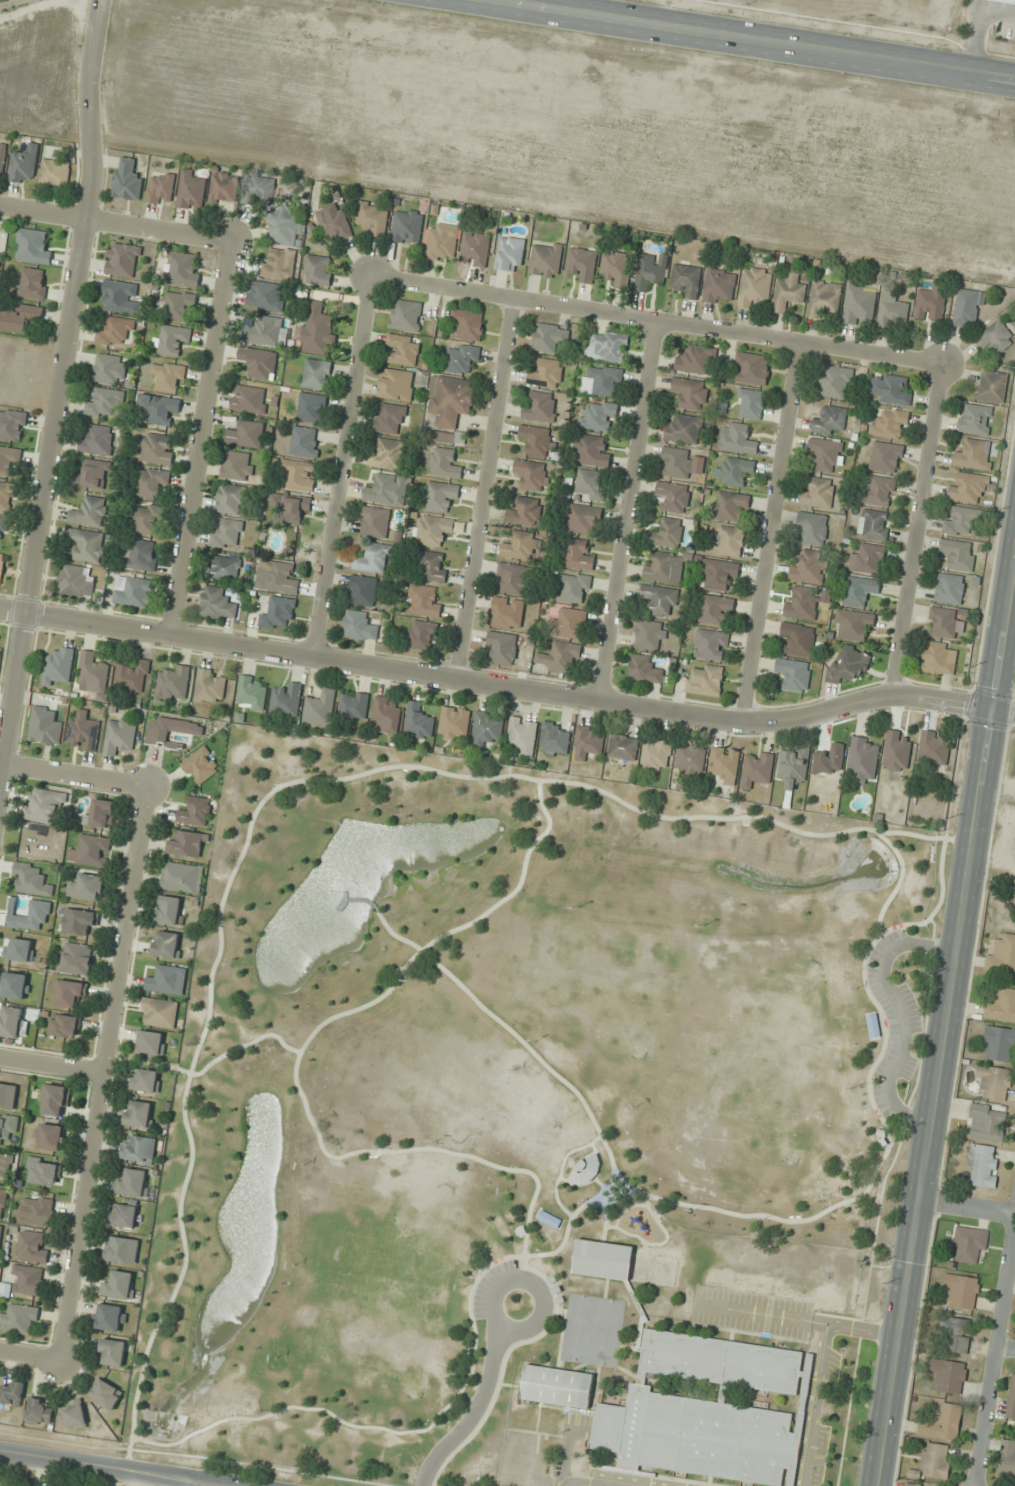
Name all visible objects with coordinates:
building: (1002, 1)
gas station: (1006, 1)
road: (998, 12)
road: (977, 36)
road: (758, 39)
building: (2, 158)
building: (24, 164)
building: (54, 172)
building: (127, 179)
building: (224, 187)
building: (160, 188)
building: (258, 189)
building: (191, 190)
building: (372, 218)
road: (114, 222)
building: (334, 224)
building: (407, 226)
building: (284, 228)
building: (441, 241)
building: (31, 246)
building: (474, 248)
building: (510, 254)
building: (123, 259)
building: (546, 259)
building: (279, 263)
building: (582, 264)
building: (181, 268)
building: (615, 268)
building: (318, 270)
building: (649, 273)
building: (686, 280)
building: (33, 283)
building: (719, 285)
building: (754, 287)
building: (789, 291)
building: (265, 296)
building: (119, 297)
building: (824, 297)
building: (931, 303)
building: (178, 305)
building: (859, 305)
building: (966, 308)
building: (892, 313)
building: (405, 315)
building: (20, 319)
road: (657, 323)
building: (468, 324)
building: (115, 330)
building: (262, 330)
building: (317, 331)
building: (550, 337)
building: (995, 337)
building: (170, 340)
building: (608, 346)
building: (402, 350)
building: (462, 358)
building: (696, 359)
building: (260, 363)
building: (751, 368)
building: (108, 369)
building: (316, 374)
building: (547, 374)
building: (168, 377)
building: (601, 381)
building: (835, 382)
building: (397, 384)
building: (991, 386)
building: (889, 389)
building: (691, 393)
road: (62, 399)
building: (249, 399)
building: (450, 400)
building: (104, 401)
building: (750, 403)
building: (539, 406)
building: (159, 408)
building: (311, 408)
building: (598, 416)
building: (390, 418)
building: (975, 419)
building: (830, 421)
building: (889, 423)
building: (12, 424)
building: (683, 429)
building: (246, 434)
road: (200, 437)
building: (447, 437)
building: (737, 438)
building: (96, 439)
building: (536, 440)
building: (305, 442)
building: (157, 449)
building: (591, 451)
building: (387, 453)
building: (826, 454)
building: (974, 454)
building: (886, 457)
building: (9, 458)
building: (676, 462)
building: (443, 463)
building: (237, 465)
road: (344, 466)
building: (735, 471)
building: (93, 474)
building: (300, 474)
building: (533, 475)
building: (150, 482)
building: (590, 485)
road: (487, 487)
building: (968, 488)
building: (387, 489)
building: (878, 491)
building: (818, 492)
building: (440, 495)
building: (6, 496)
building: (673, 496)
building: (229, 499)
building: (731, 505)
building: (291, 507)
road: (629, 511)
building: (89, 512)
building: (524, 512)
building: (582, 518)
building: (144, 519)
building: (962, 521)
building: (374, 522)
building: (873, 524)
building: (3, 526)
building: (812, 528)
building: (433, 529)
road: (919, 530)
building: (226, 533)
building: (667, 533)
road: (772, 533)
building: (729, 540)
building: (87, 545)
building: (519, 545)
building: (578, 554)
building: (958, 554)
building: (143, 555)
building: (373, 558)
building: (868, 559)
building: (2, 566)
building: (432, 566)
building: (661, 567)
building: (809, 567)
building: (223, 568)
building: (718, 573)
building: (276, 576)
building: (511, 578)
building: (76, 580)
building: (574, 587)
building: (950, 588)
building: (133, 590)
building: (362, 590)
building: (859, 590)
building: (659, 600)
building: (424, 601)
building: (802, 603)
building: (217, 604)
building: (715, 609)
building: (279, 614)
building: (943, 622)
building: (570, 623)
building: (853, 624)
building: (360, 626)
building: (422, 635)
building: (650, 635)
building: (797, 639)
building: (710, 645)
building: (502, 647)
building: (559, 658)
building: (938, 658)
building: (849, 665)
building: (58, 666)
building: (645, 670)
building: (93, 674)
building: (794, 674)
building: (132, 677)
building: (705, 680)
building: (173, 683)
road: (508, 684)
building: (210, 686)
building: (251, 693)
building: (287, 699)
building: (353, 705)
building: (319, 707)
building: (386, 714)
building: (418, 721)
building: (454, 723)
building: (45, 726)
building: (487, 728)
building: (83, 732)
building: (119, 736)
building: (522, 737)
building: (555, 739)
building: (588, 742)
building: (623, 747)
building: (933, 748)
building: (897, 750)
building: (655, 755)
building: (691, 758)
building: (863, 759)
building: (725, 764)
building: (200, 765)
building: (794, 766)
building: (757, 768)
building: (1014, 771)
road: (75, 775)
building: (45, 806)
building: (195, 811)
building: (102, 813)
building: (187, 843)
building: (92, 850)
building: (181, 877)
building: (30, 879)
building: (87, 887)
road: (224, 896)
building: (170, 910)
road: (381, 919)
building: (77, 920)
building: (167, 944)
building: (19, 950)
building: (1001, 956)
building: (76, 958)
road: (402, 970)
building: (166, 980)
building: (15, 985)
building: (70, 993)
building: (1002, 1006)
building: (159, 1012)
building: (11, 1021)
building: (874, 1024)
building: (65, 1026)
road: (946, 1041)
building: (152, 1042)
building: (1000, 1043)
road: (53, 1064)
road: (106, 1074)
park: (501, 1079)
building: (146, 1080)
building: (994, 1081)
building: (8, 1095)
building: (56, 1100)
building: (139, 1114)
building: (987, 1123)
building: (51, 1136)
building: (139, 1149)
road: (345, 1155)
building: (983, 1165)
building: (4, 1166)
building: (586, 1169)
road: (615, 1169)
building: (45, 1173)
building: (134, 1183)
building: (3, 1202)
road: (968, 1207)
building: (36, 1210)
building: (123, 1215)
road: (773, 1217)
building: (0, 1231)
building: (970, 1243)
building: (32, 1247)
building: (122, 1249)
building: (603, 1258)
building: (751, 1277)
building: (27, 1279)
road: (531, 1282)
building: (120, 1284)
building: (796, 1284)
building: (962, 1290)
building: (111, 1317)
building: (19, 1319)
road: (798, 1319)
building: (953, 1334)
road: (1007, 1346)
building: (112, 1352)
road: (31, 1357)
road: (997, 1357)
building: (949, 1375)
building: (556, 1386)
building: (11, 1392)
building: (106, 1394)
building: (1011, 1399)
road: (816, 1405)
building: (40, 1411)
road: (474, 1411)
building: (706, 1411)
building: (74, 1414)
building: (943, 1423)
road: (568, 1451)
building: (1007, 1459)
building: (935, 1460)
road: (113, 1468)
road: (573, 1484)
building: (912, 1484)

